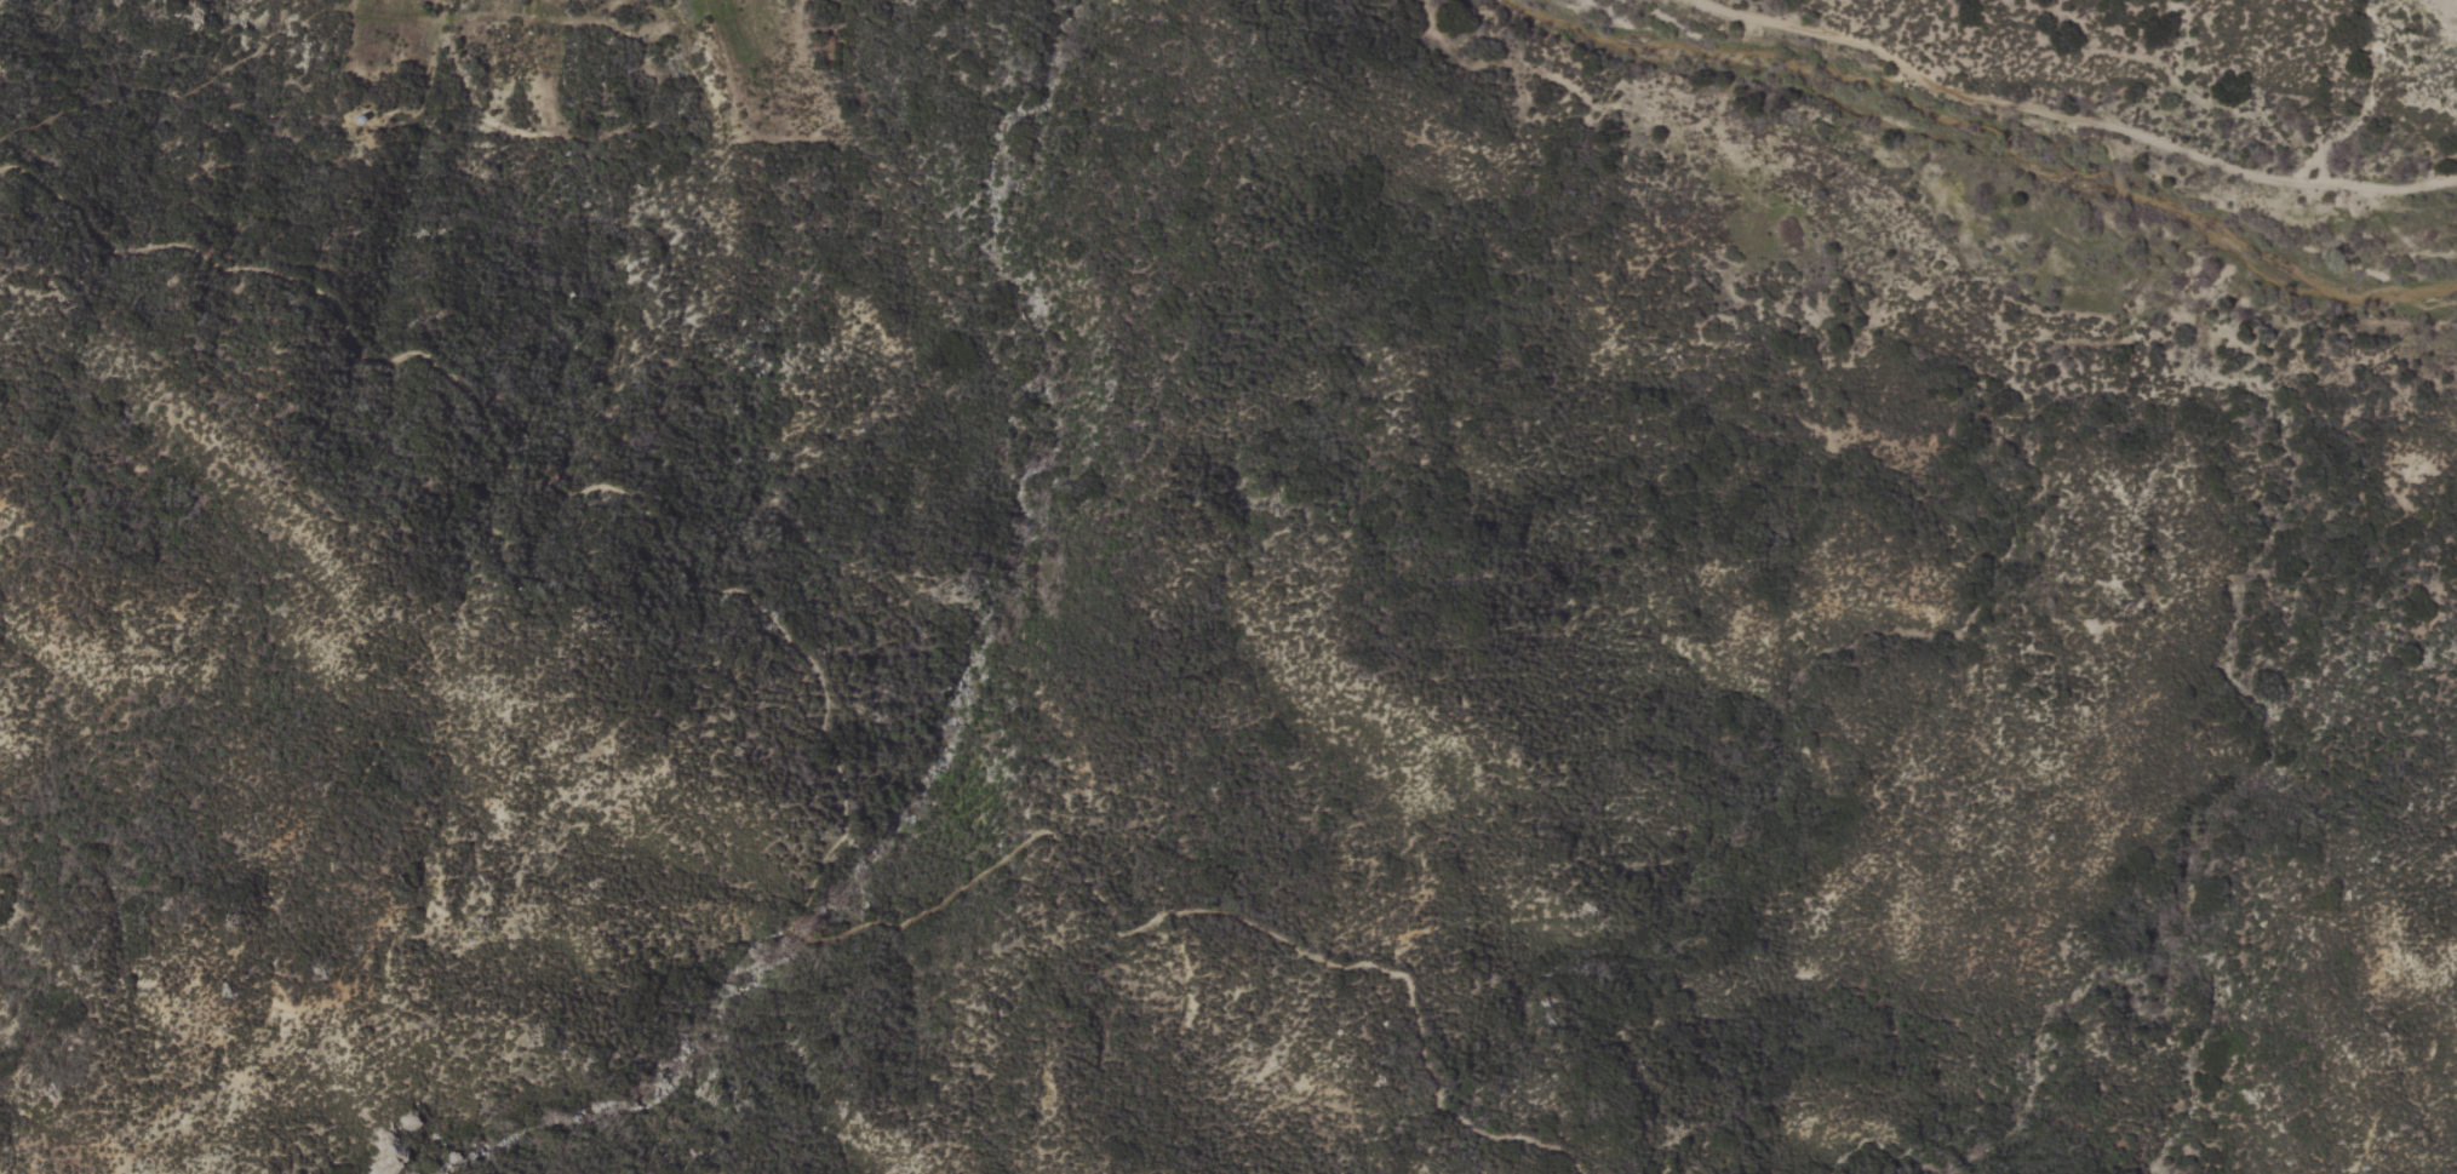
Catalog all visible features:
road: (2077, 115)
road: (842, 786)

